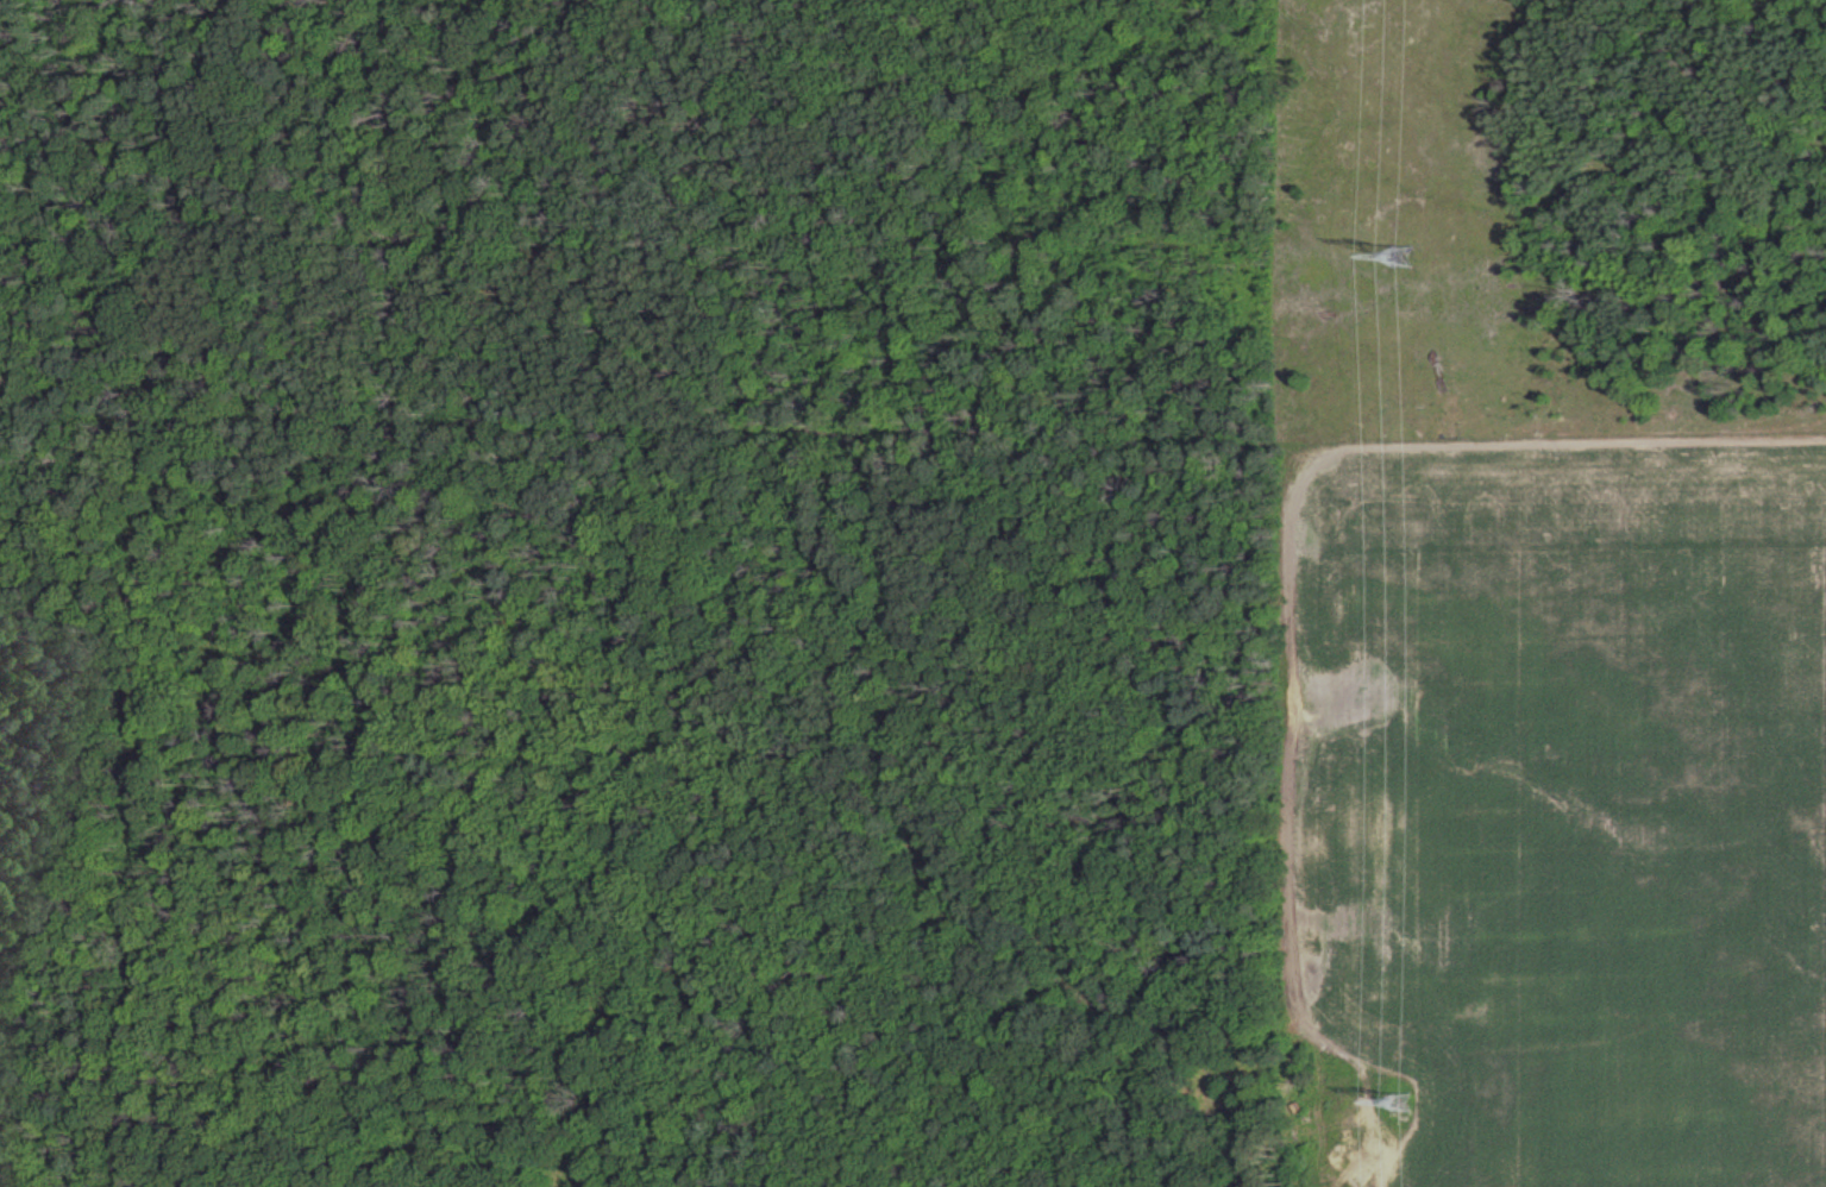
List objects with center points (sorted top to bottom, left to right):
power tower: (1403, 257)
power tower: (1403, 1103)

